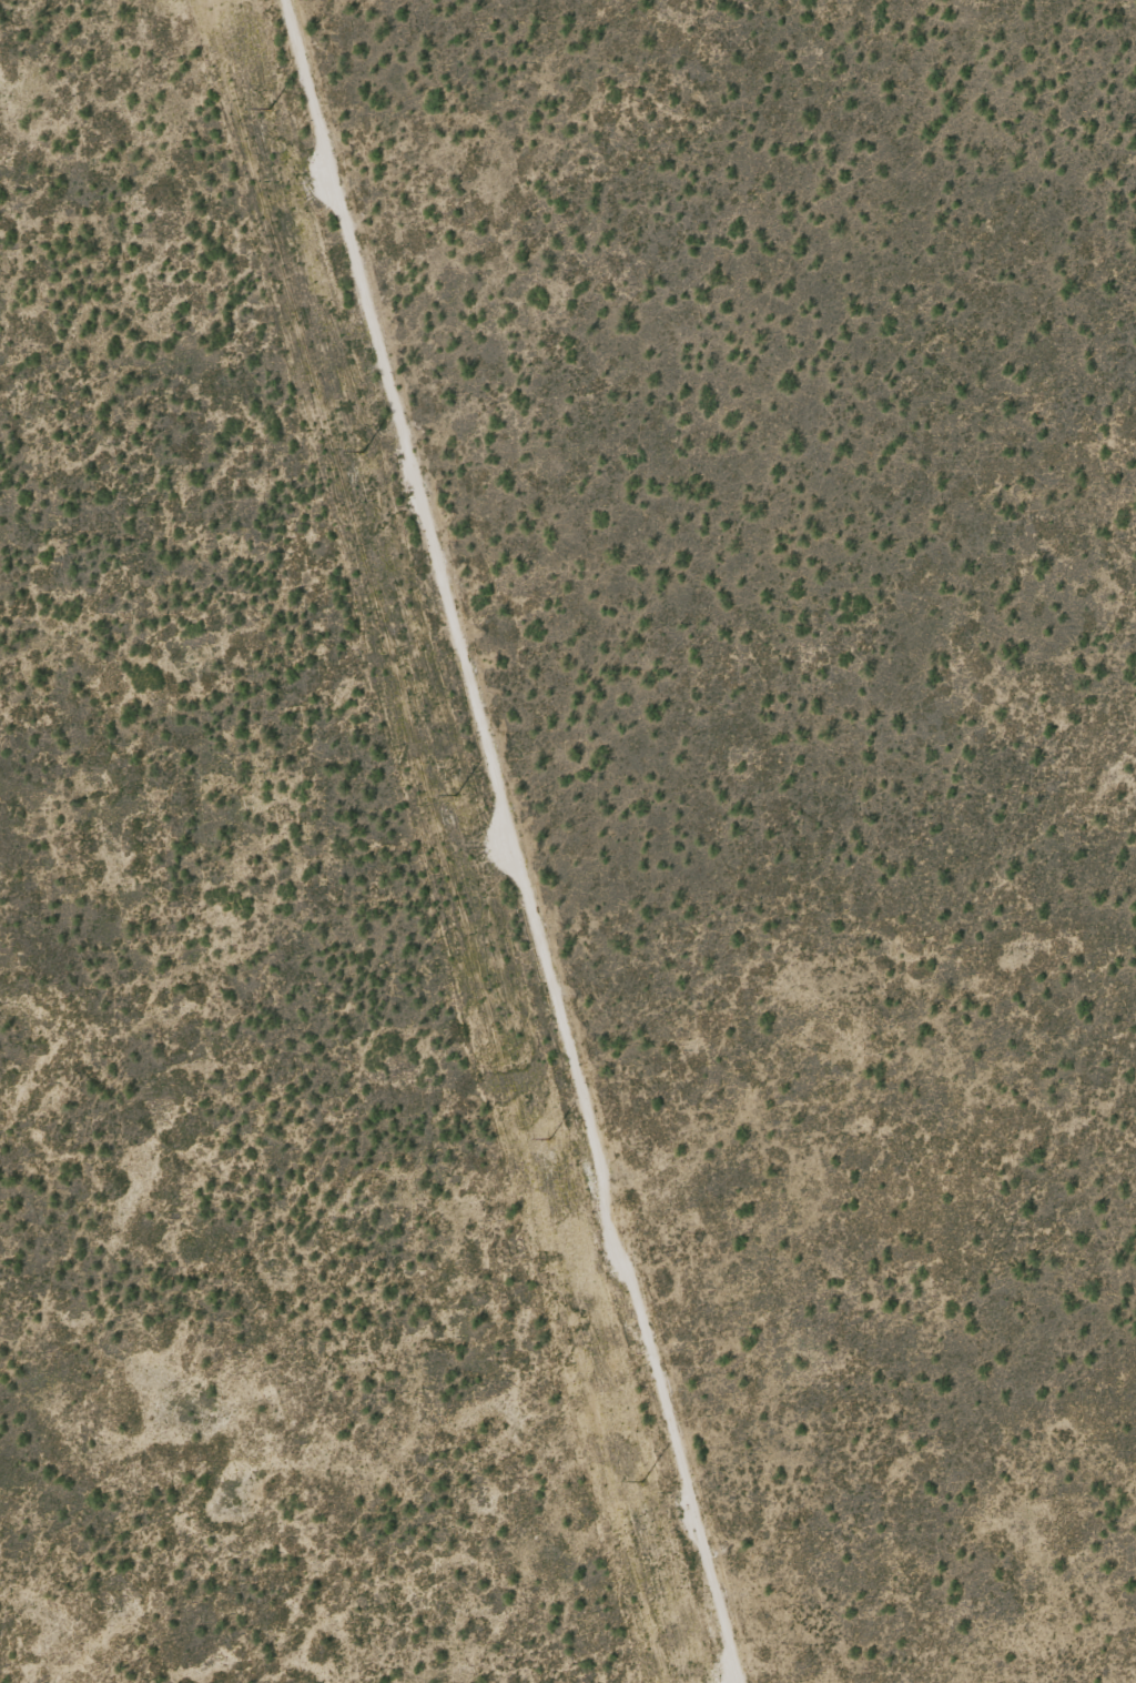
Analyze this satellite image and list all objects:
power tower: (270, 107)
power tower: (361, 451)
power tower: (455, 794)
power tower: (550, 1139)
power tower: (640, 1481)

